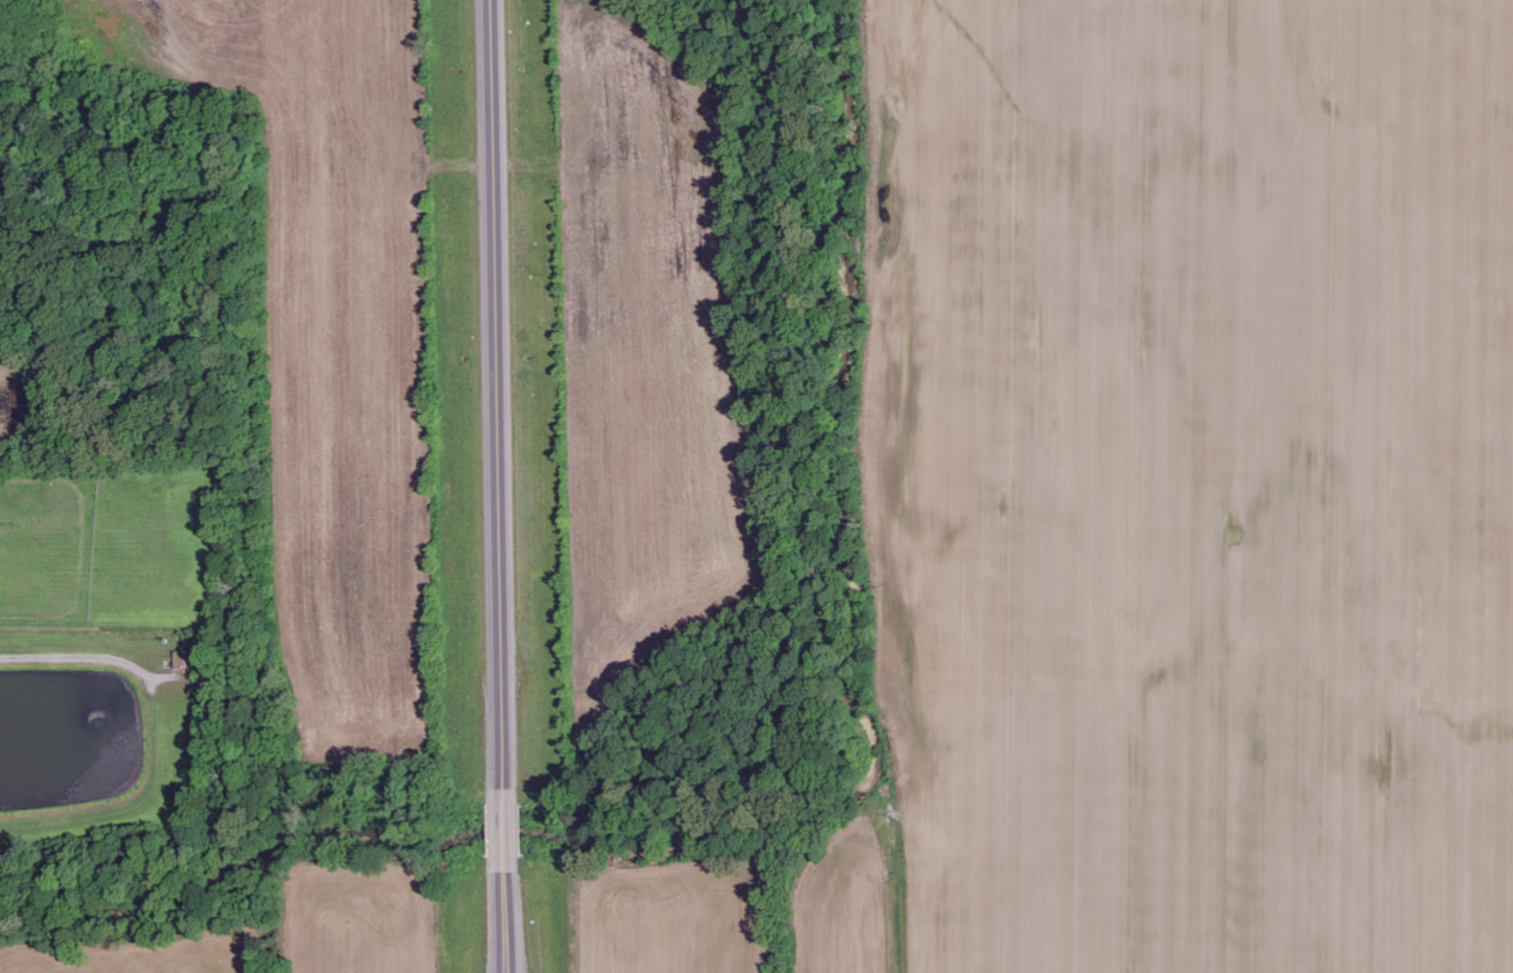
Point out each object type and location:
road: (499, 402)
road: (506, 830)
road: (507, 914)

